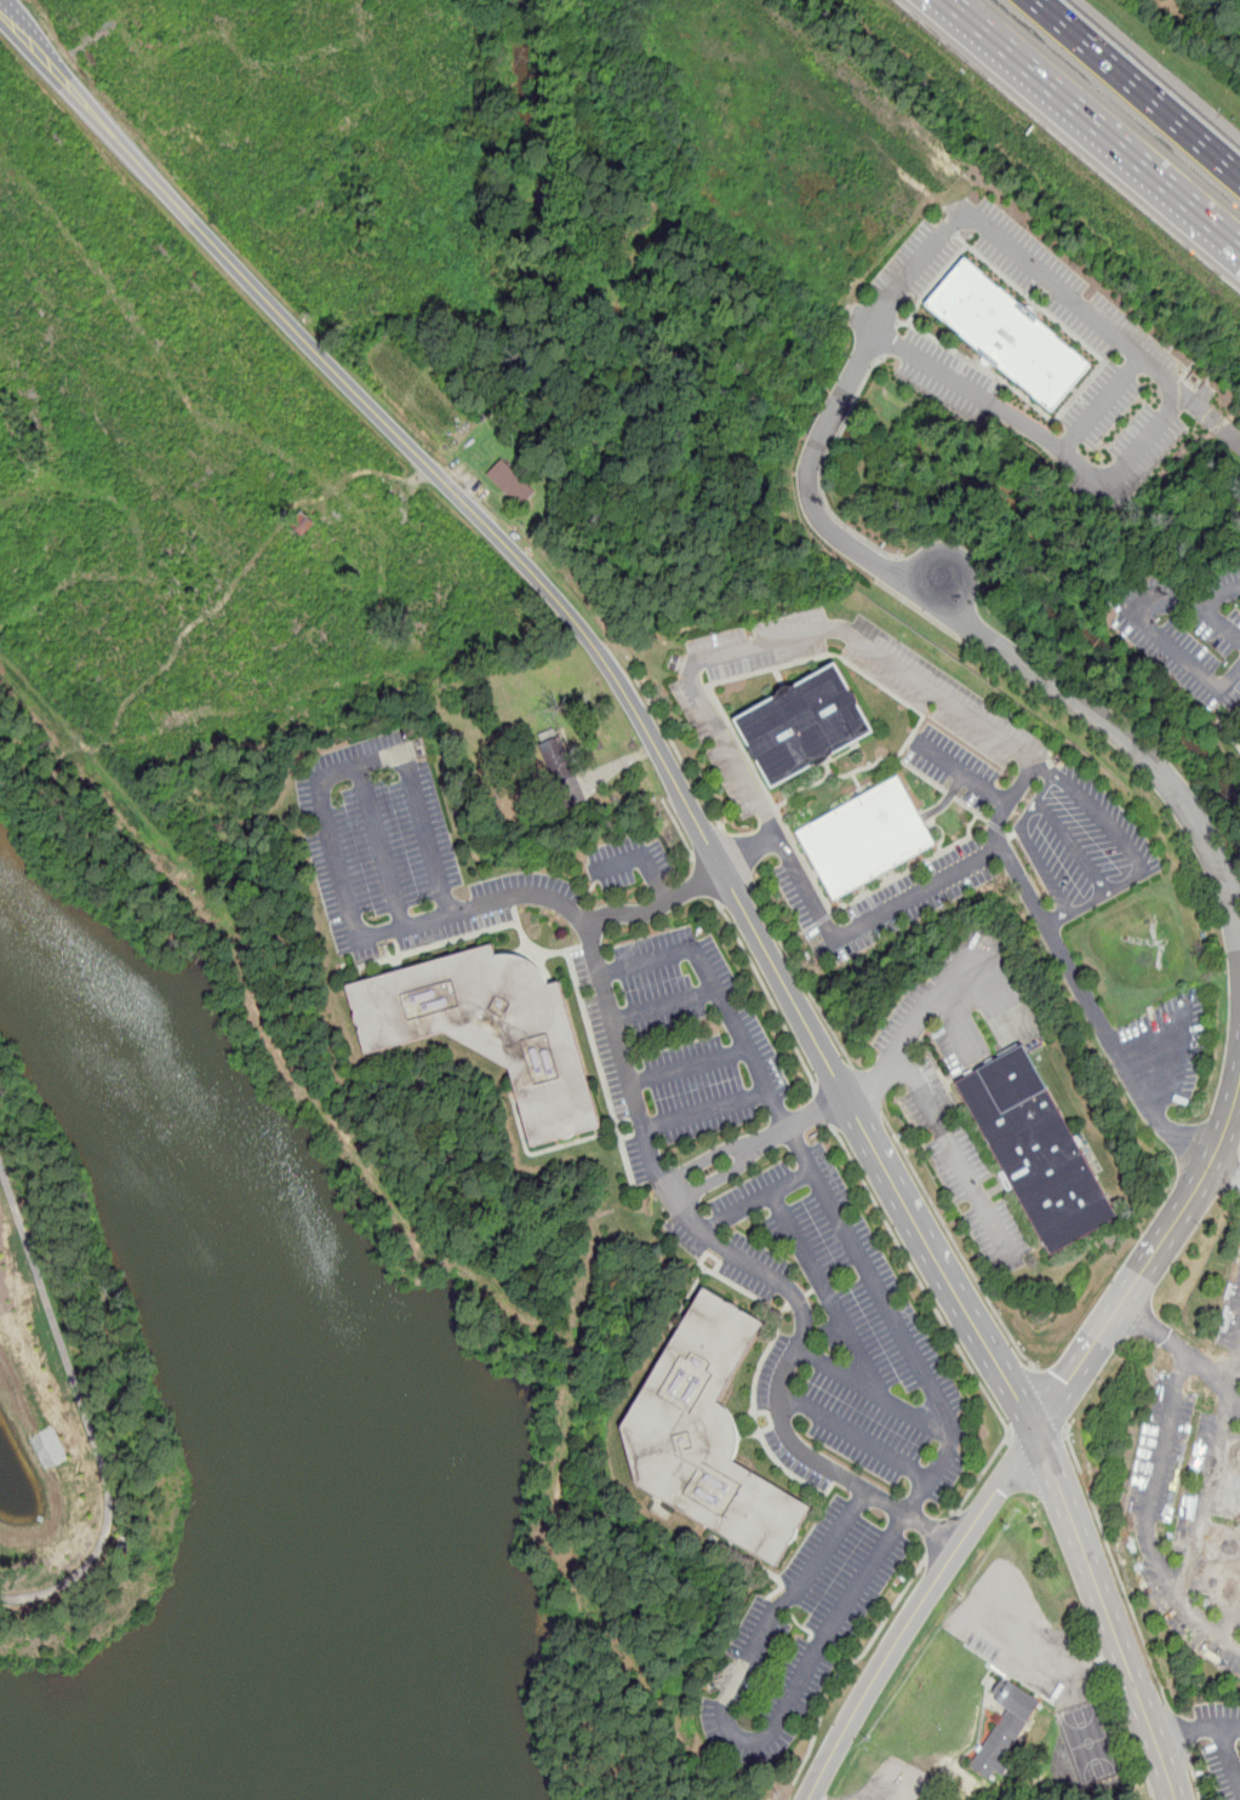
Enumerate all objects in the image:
road: (1148, 76)
road: (1101, 118)
building: (1011, 335)
parking lot: (924, 355)
road: (859, 360)
road: (1168, 383)
road: (1102, 405)
road: (1211, 419)
road: (832, 421)
building: (512, 482)
building: (303, 524)
road: (841, 541)
road: (1216, 616)
road: (1144, 622)
parking lot: (1187, 629)
road: (606, 663)
road: (905, 673)
parking lot: (950, 702)
building: (802, 724)
road: (1121, 733)
road: (679, 754)
road: (960, 768)
road: (679, 829)
building: (865, 836)
parking lot: (1082, 842)
road: (379, 846)
parking lot: (385, 850)
road: (738, 855)
road: (640, 856)
road: (1058, 859)
parking lot: (630, 862)
road: (705, 880)
parking lot: (527, 892)
parking lot: (886, 901)
road: (656, 905)
road: (835, 939)
road: (800, 975)
road: (1081, 984)
road: (605, 987)
road: (770, 996)
road: (662, 1005)
road: (915, 1028)
building: (488, 1029)
road: (956, 1030)
parking lot: (1170, 1041)
parking lot: (678, 1042)
road: (686, 1065)
road: (867, 1090)
road: (825, 1108)
road: (704, 1109)
road: (759, 1144)
building: (1036, 1149)
road: (956, 1159)
road: (754, 1199)
parking lot: (720, 1242)
road: (954, 1244)
road: (1145, 1267)
road: (822, 1286)
road: (944, 1322)
parking lot: (859, 1331)
road: (1217, 1364)
road: (876, 1392)
road: (1048, 1401)
road: (84, 1412)
parking lot: (779, 1416)
building: (707, 1435)
road: (856, 1436)
road: (947, 1451)
road: (1210, 1461)
parking lot: (1194, 1486)
road: (1147, 1518)
road: (939, 1536)
road: (1113, 1566)
road: (1232, 1604)
road: (915, 1615)
road: (1112, 1619)
parking lot: (798, 1635)
parking lot: (1024, 1638)
road: (1040, 1656)
road: (850, 1665)
road: (1196, 1726)
building: (1006, 1728)
road: (1179, 1733)
parking lot: (1222, 1744)
road: (1230, 1754)
road: (1195, 1781)
road: (898, 1794)

